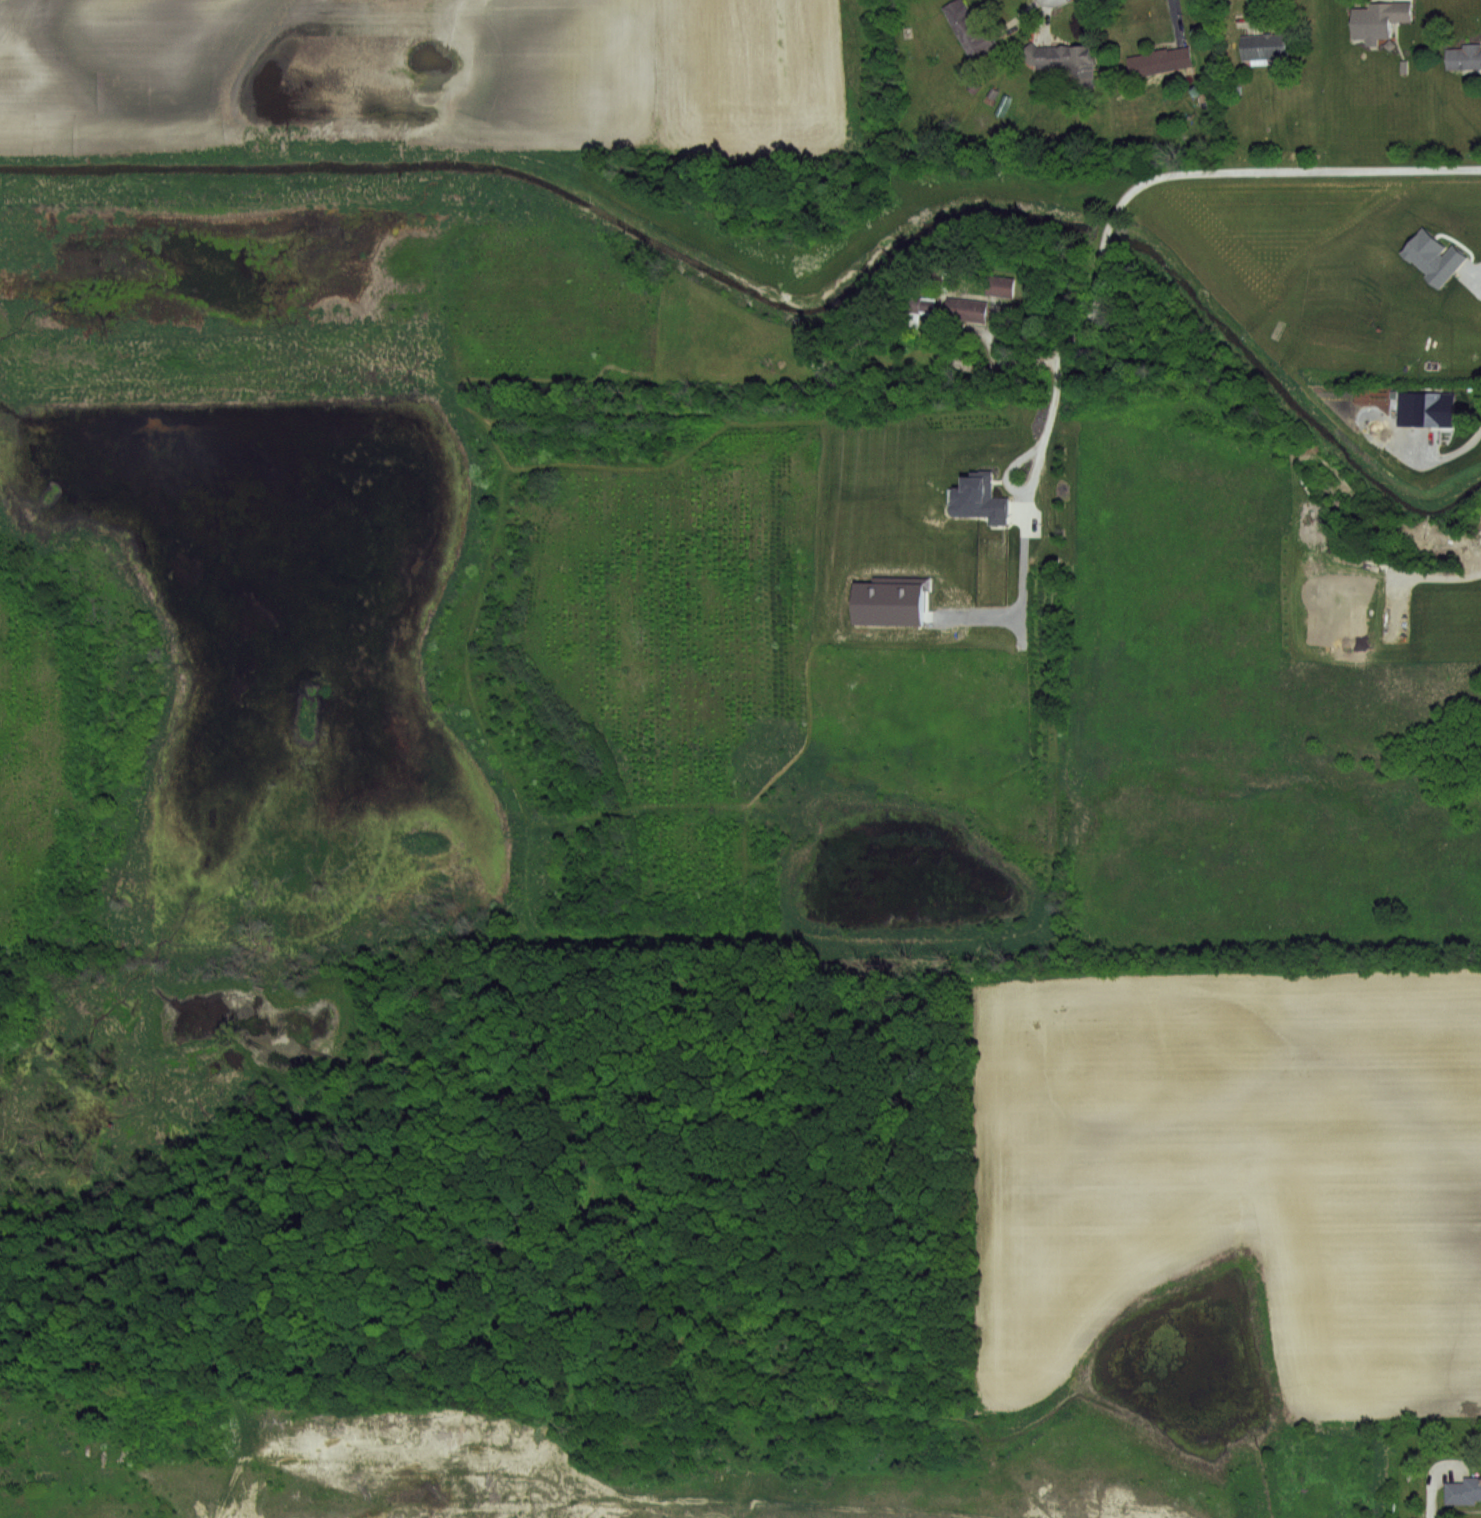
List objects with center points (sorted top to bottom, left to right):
building: (1380, 20)
building: (968, 30)
building: (1264, 46)
building: (1464, 58)
building: (1062, 60)
building: (1160, 61)
crop: (493, 119)
road: (1175, 173)
building: (1432, 256)
building: (1001, 286)
building: (921, 303)
building: (968, 309)
building: (1427, 411)
road: (1454, 451)
road: (1027, 452)
building: (980, 501)
building: (889, 603)
crop: (652, 622)
crop: (1216, 1224)
crop: (417, 1474)
building: (1465, 1492)
road: (1431, 1498)

